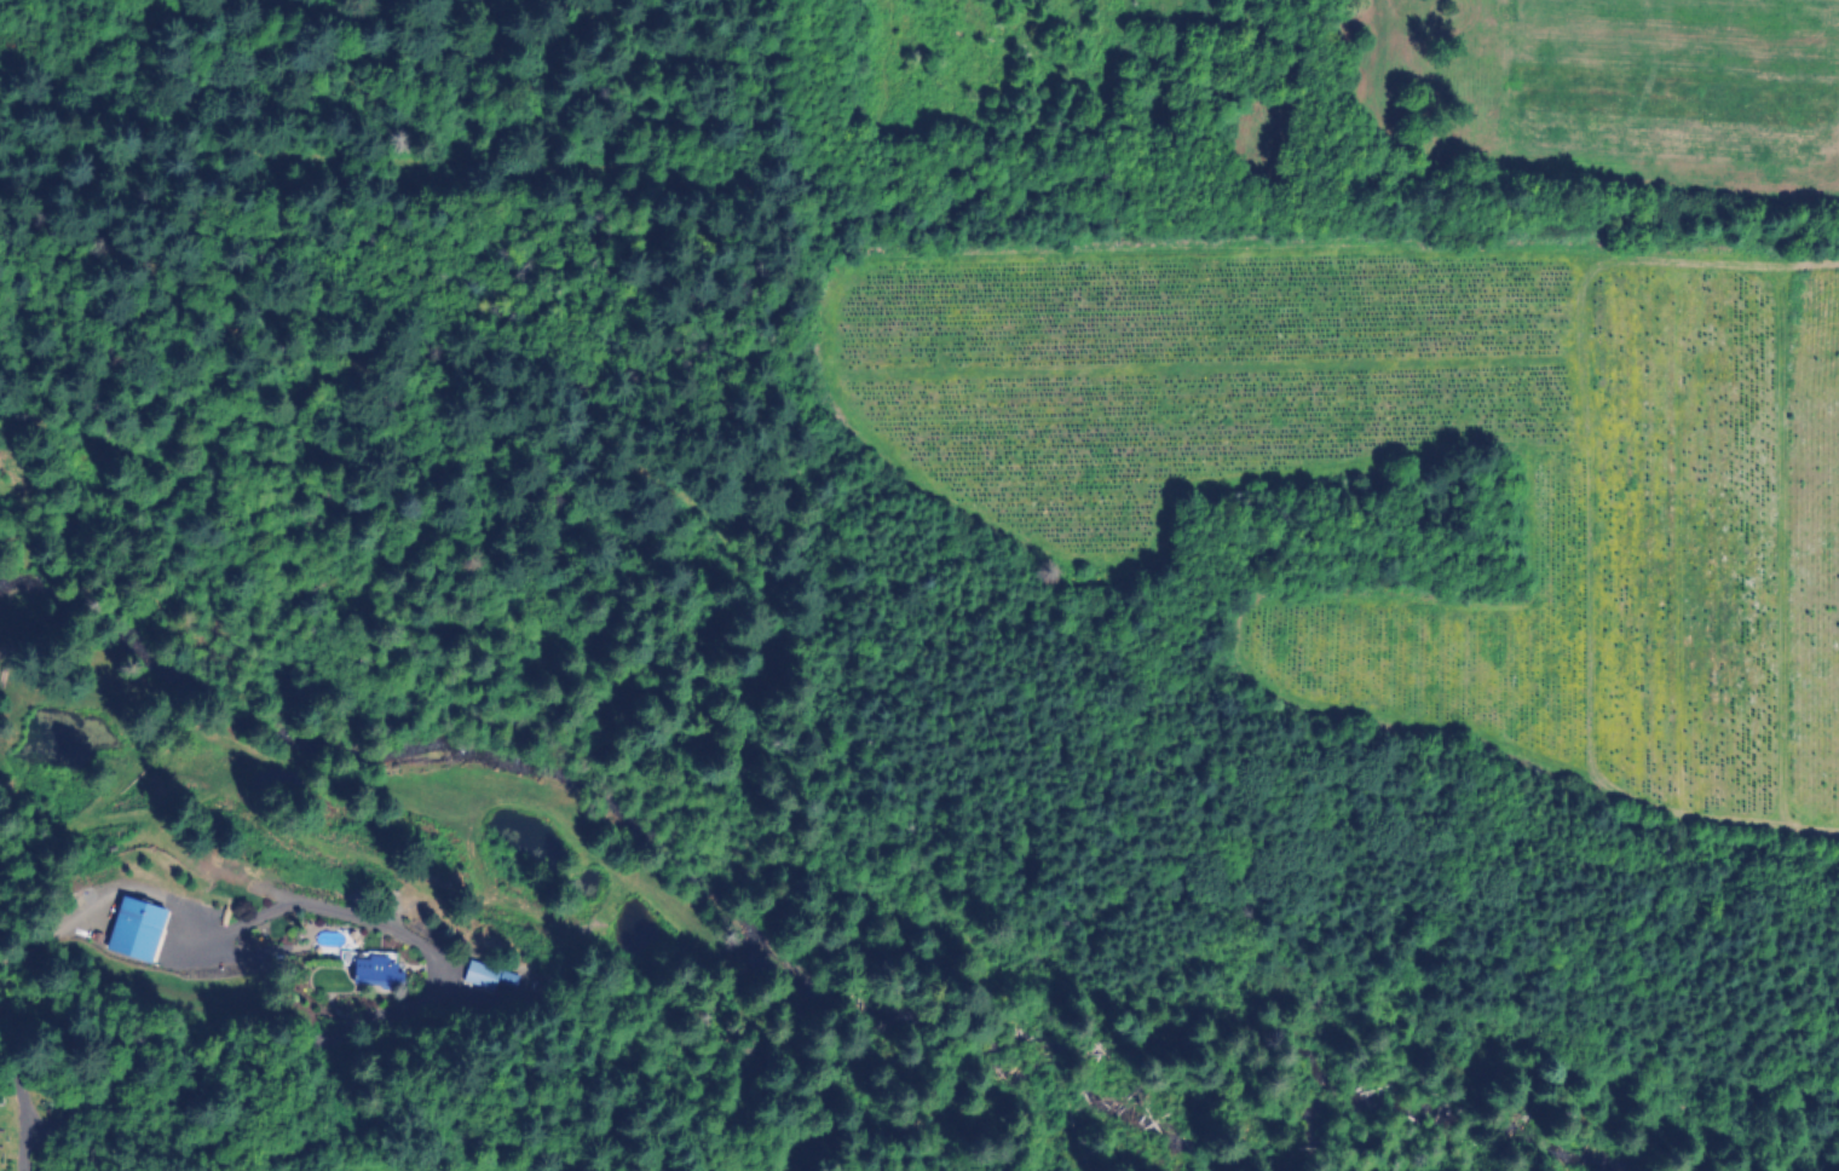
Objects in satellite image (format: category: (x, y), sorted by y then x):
road: (140, 890)
building: (132, 931)
building: (373, 973)
building: (484, 977)

